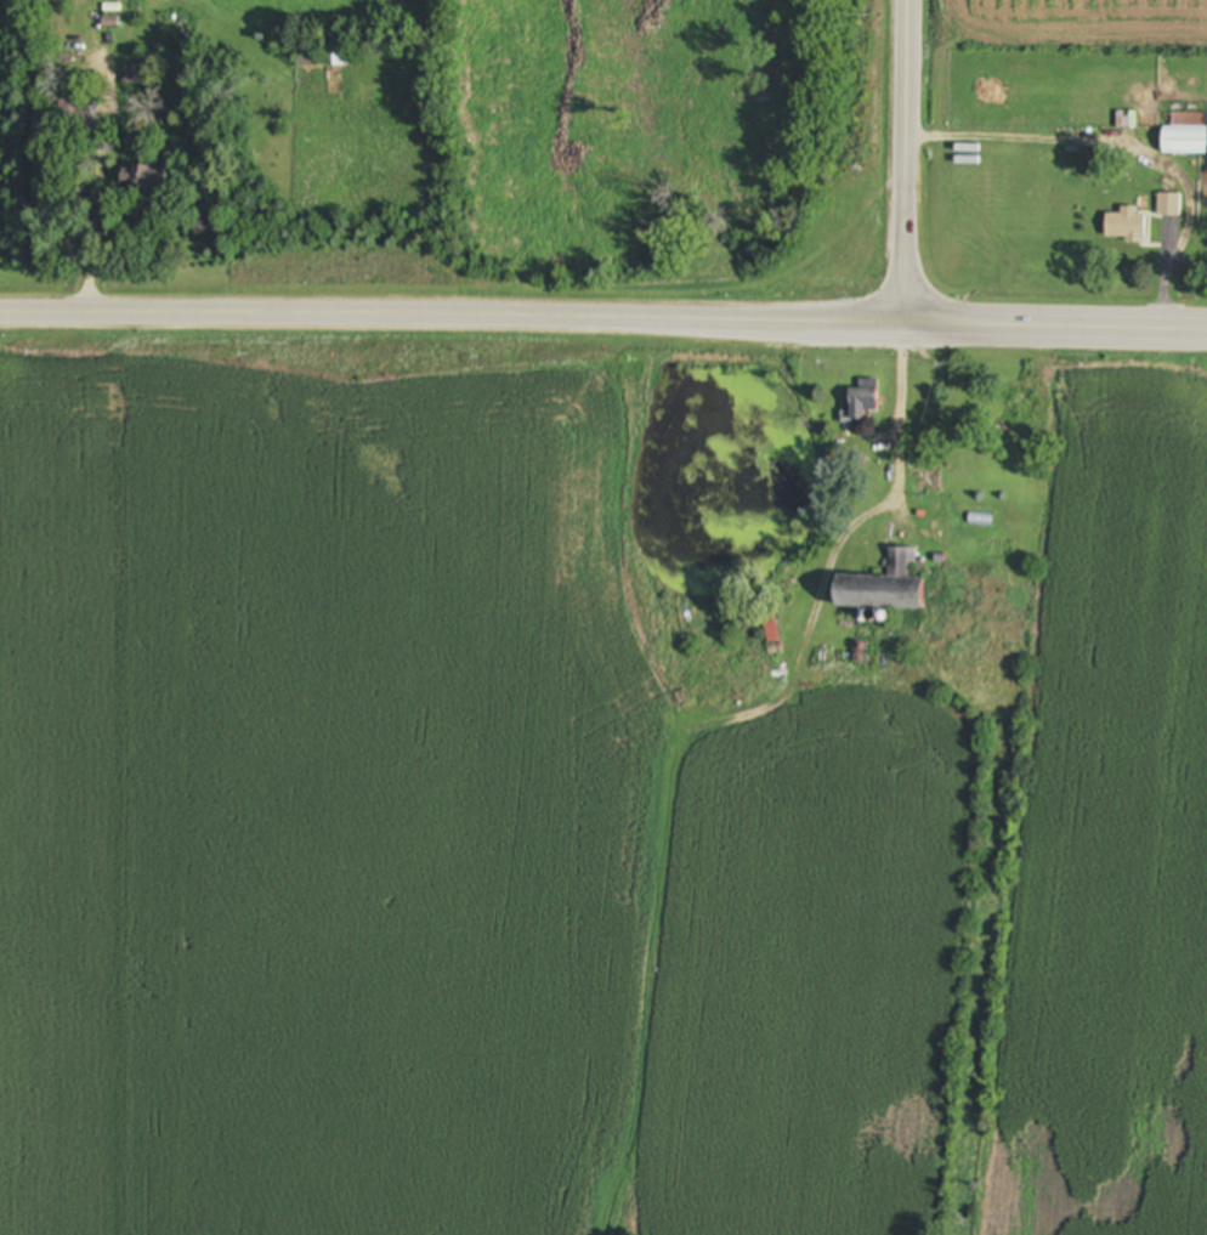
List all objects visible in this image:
building: (308, 62)
building: (132, 74)
building: (69, 108)
building: (1185, 135)
road: (1020, 137)
road: (899, 164)
building: (143, 181)
road: (95, 198)
building: (1168, 205)
building: (1126, 226)
road: (447, 318)
road: (1050, 330)
building: (863, 400)
road: (897, 495)
building: (885, 588)

